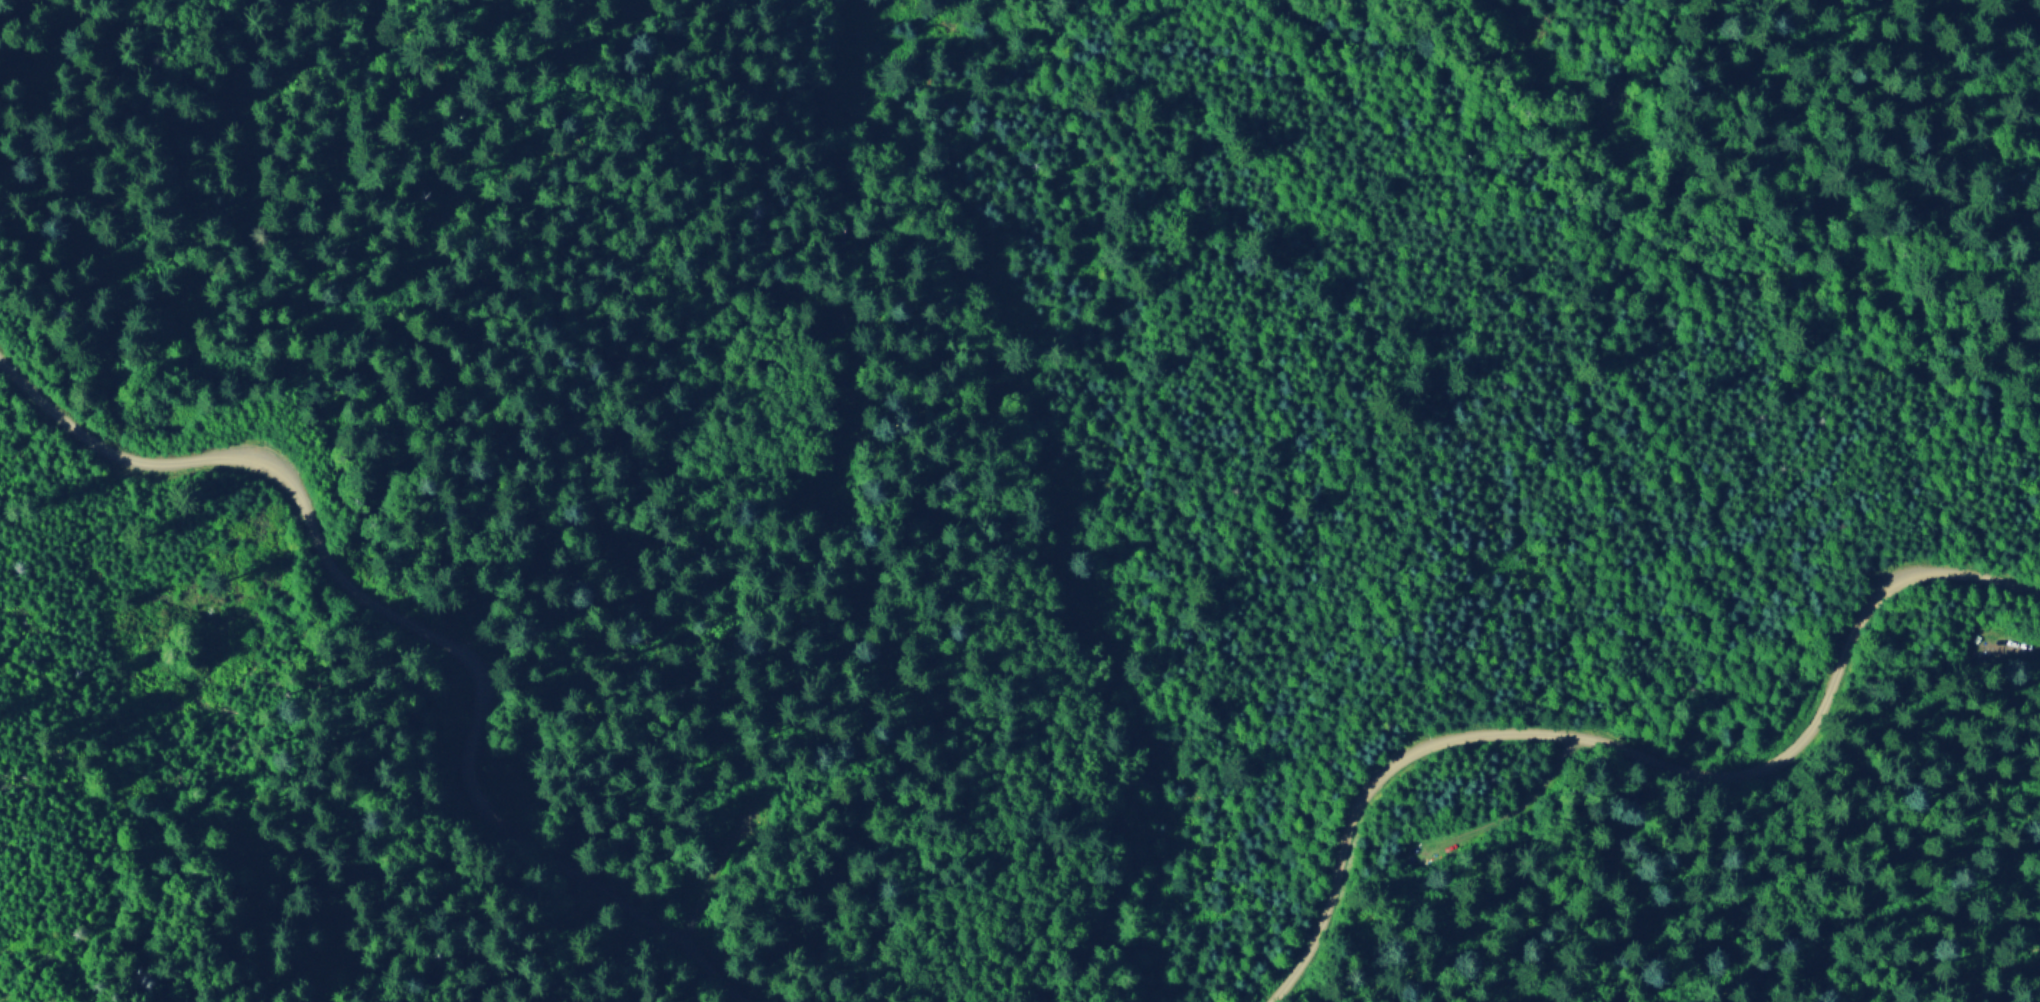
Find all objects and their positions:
road: (415, 631)
road: (1643, 763)

